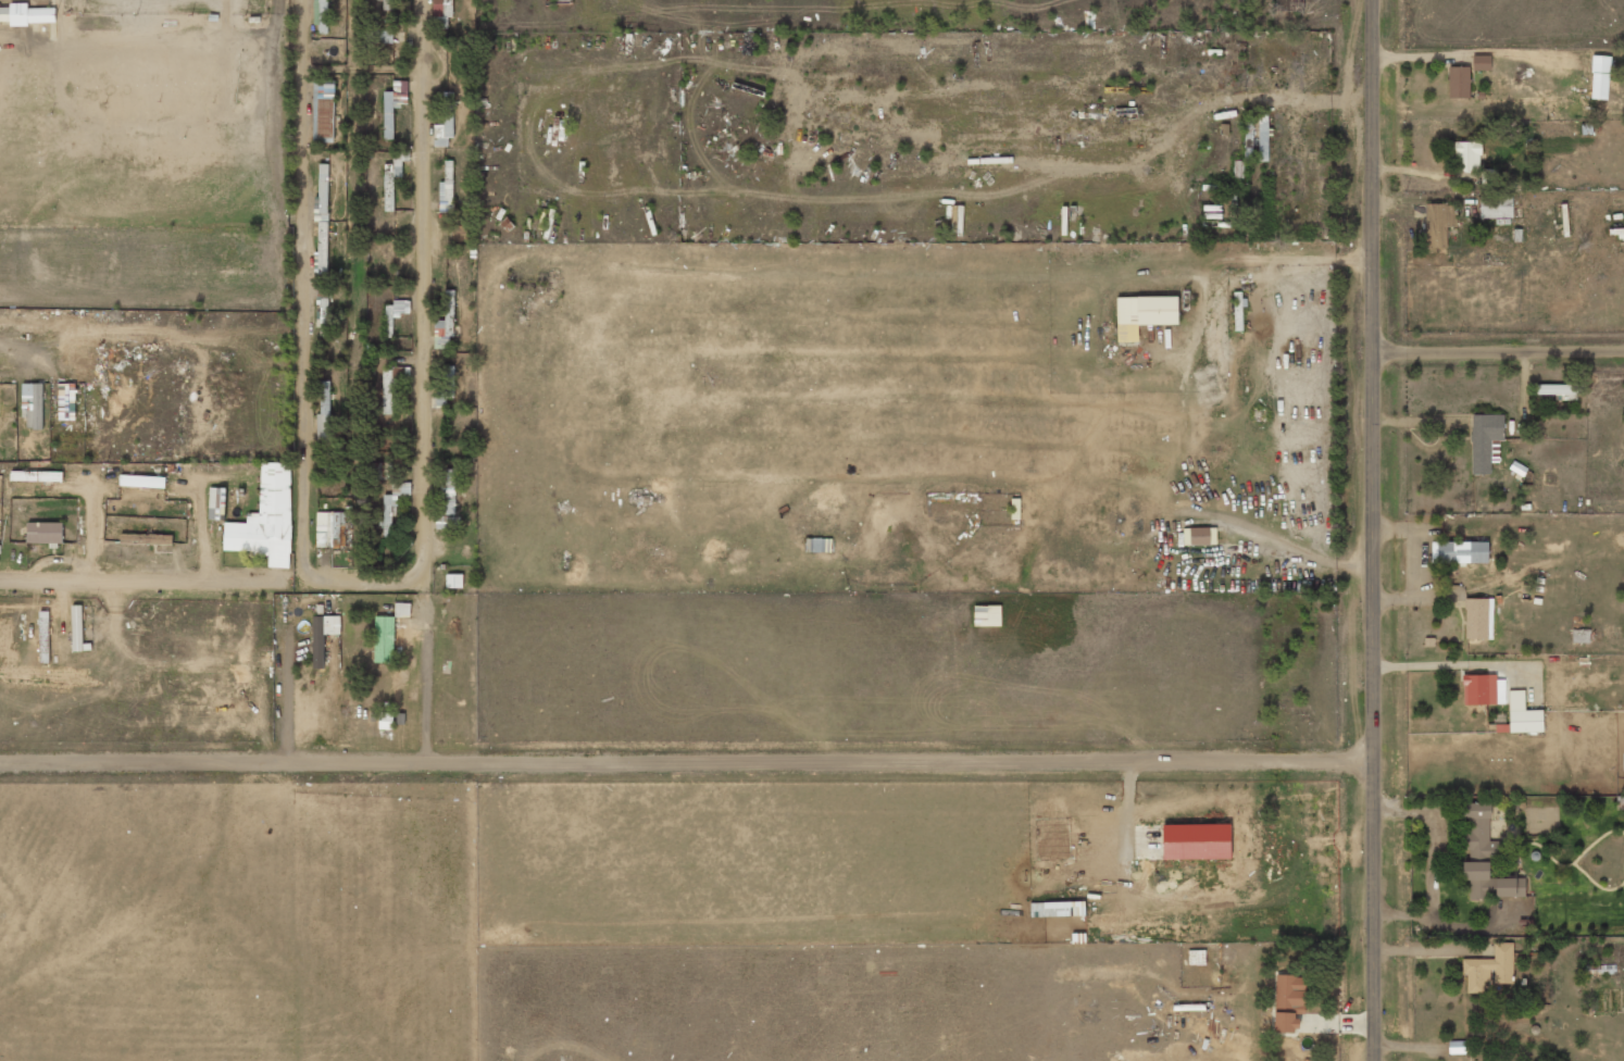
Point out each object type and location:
building: (388, 4)
building: (441, 13)
building: (27, 14)
building: (321, 16)
building: (382, 36)
building: (1481, 62)
building: (1599, 77)
building: (1459, 82)
building: (323, 112)
building: (388, 122)
building: (1465, 155)
building: (1488, 176)
building: (446, 191)
building: (1496, 207)
building: (1438, 224)
building: (461, 233)
building: (322, 312)
building: (393, 314)
building: (1144, 314)
building: (445, 324)
road: (1499, 348)
building: (390, 386)
building: (445, 388)
building: (1559, 389)
building: (67, 401)
building: (33, 404)
building: (324, 415)
building: (1485, 441)
building: (380, 470)
building: (36, 475)
building: (142, 480)
building: (449, 492)
building: (216, 498)
building: (388, 515)
building: (266, 519)
building: (330, 529)
road: (1376, 530)
building: (45, 532)
building: (1199, 536)
building: (146, 539)
building: (1459, 552)
road: (363, 581)
building: (454, 581)
building: (987, 615)
building: (1477, 619)
building: (332, 624)
building: (388, 633)
building: (317, 653)
building: (1479, 689)
building: (1523, 714)
building: (386, 721)
building: (1478, 832)
building: (1490, 883)
building: (1489, 968)
building: (1289, 994)
building: (1285, 1022)

